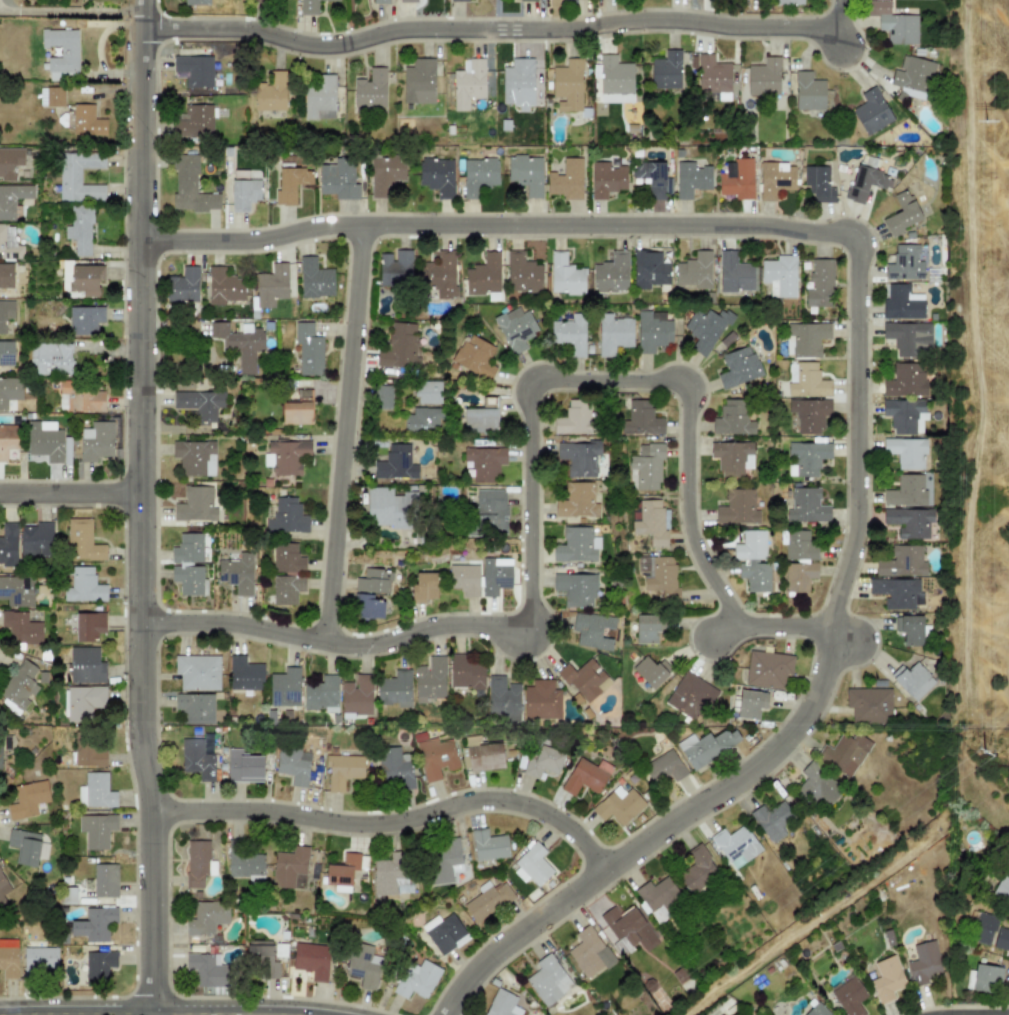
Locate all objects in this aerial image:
building: (265, 0)
building: (331, 0)
building: (458, 0)
building: (527, 0)
building: (380, 1)
building: (408, 1)
building: (195, 2)
building: (788, 2)
building: (308, 6)
road: (67, 11)
road: (833, 11)
road: (481, 23)
building: (894, 24)
building: (61, 53)
building: (194, 70)
building: (666, 70)
building: (710, 73)
building: (763, 77)
building: (913, 77)
building: (615, 80)
building: (419, 81)
building: (468, 83)
building: (517, 83)
building: (568, 85)
building: (370, 90)
building: (808, 91)
building: (270, 93)
building: (51, 96)
building: (320, 98)
building: (871, 111)
building: (87, 121)
building: (194, 121)
building: (10, 161)
building: (525, 173)
building: (385, 174)
building: (478, 175)
building: (652, 175)
building: (78, 176)
building: (437, 176)
building: (690, 178)
building: (736, 178)
building: (338, 179)
building: (566, 179)
building: (606, 179)
building: (775, 179)
building: (865, 179)
building: (818, 181)
building: (291, 183)
building: (190, 186)
building: (244, 194)
building: (12, 199)
building: (901, 214)
road: (498, 223)
building: (80, 229)
building: (8, 243)
building: (904, 263)
building: (395, 268)
building: (649, 269)
building: (693, 271)
building: (522, 272)
building: (611, 273)
building: (734, 273)
building: (6, 275)
building: (439, 275)
building: (484, 275)
building: (565, 275)
building: (779, 276)
building: (81, 278)
building: (314, 278)
building: (819, 284)
building: (183, 285)
building: (272, 285)
building: (224, 287)
building: (902, 302)
building: (6, 313)
building: (85, 319)
building: (515, 328)
building: (705, 329)
building: (652, 330)
building: (570, 334)
building: (613, 335)
building: (807, 338)
building: (908, 338)
building: (240, 344)
building: (400, 347)
building: (308, 349)
building: (6, 353)
building: (475, 357)
building: (50, 358)
building: (738, 367)
building: (806, 380)
building: (905, 380)
building: (9, 391)
building: (427, 392)
building: (383, 397)
building: (81, 398)
building: (200, 403)
building: (297, 409)
building: (808, 414)
building: (904, 415)
building: (423, 418)
building: (574, 418)
building: (732, 418)
building: (641, 419)
road: (345, 432)
building: (8, 439)
building: (45, 441)
building: (96, 441)
road: (528, 444)
building: (906, 452)
building: (287, 455)
building: (195, 457)
building: (579, 457)
building: (731, 457)
building: (806, 457)
building: (484, 462)
building: (396, 463)
building: (647, 467)
building: (906, 491)
road: (68, 494)
building: (577, 500)
building: (195, 504)
building: (807, 505)
building: (493, 506)
road: (136, 507)
building: (737, 507)
building: (390, 508)
building: (286, 516)
building: (651, 522)
building: (910, 522)
building: (36, 539)
building: (82, 541)
building: (8, 542)
building: (576, 545)
building: (287, 558)
building: (753, 560)
building: (798, 560)
building: (902, 562)
building: (188, 565)
building: (237, 573)
building: (495, 575)
building: (658, 576)
building: (464, 579)
building: (374, 581)
building: (83, 586)
building: (424, 586)
building: (575, 588)
building: (287, 589)
building: (17, 590)
building: (895, 592)
building: (368, 606)
building: (89, 625)
building: (21, 627)
building: (909, 628)
building: (646, 629)
building: (595, 632)
building: (85, 665)
building: (767, 669)
building: (197, 671)
building: (650, 671)
building: (244, 674)
building: (465, 674)
building: (429, 679)
building: (584, 679)
building: (911, 680)
building: (20, 686)
building: (284, 687)
building: (394, 688)
building: (321, 693)
building: (357, 695)
building: (503, 695)
building: (690, 695)
building: (541, 700)
building: (83, 702)
building: (869, 704)
building: (749, 705)
building: (195, 708)
road: (803, 711)
building: (706, 746)
building: (843, 753)
building: (90, 754)
building: (483, 754)
building: (435, 757)
building: (197, 759)
building: (0, 760)
building: (542, 761)
building: (294, 766)
building: (243, 767)
building: (664, 767)
building: (395, 768)
building: (342, 770)
building: (586, 776)
building: (817, 785)
building: (96, 791)
building: (27, 799)
building: (618, 805)
building: (771, 819)
road: (388, 820)
building: (96, 830)
building: (488, 845)
building: (735, 845)
building: (24, 846)
building: (444, 858)
building: (198, 862)
building: (245, 864)
building: (532, 865)
building: (290, 868)
building: (343, 870)
building: (697, 870)
building: (390, 874)
building: (105, 880)
building: (3, 888)
building: (1002, 888)
building: (657, 893)
building: (487, 900)
building: (207, 916)
building: (94, 924)
building: (627, 928)
building: (983, 928)
building: (444, 932)
building: (1001, 939)
building: (589, 953)
building: (264, 958)
building: (8, 959)
building: (312, 960)
building: (40, 961)
building: (923, 962)
building: (363, 965)
building: (98, 966)
building: (208, 969)
building: (983, 978)
building: (416, 979)
building: (548, 979)
building: (886, 979)
building: (849, 996)
building: (502, 1003)
building: (816, 1010)
road: (965, 1012)
road: (166, 1013)
road: (262, 1013)

